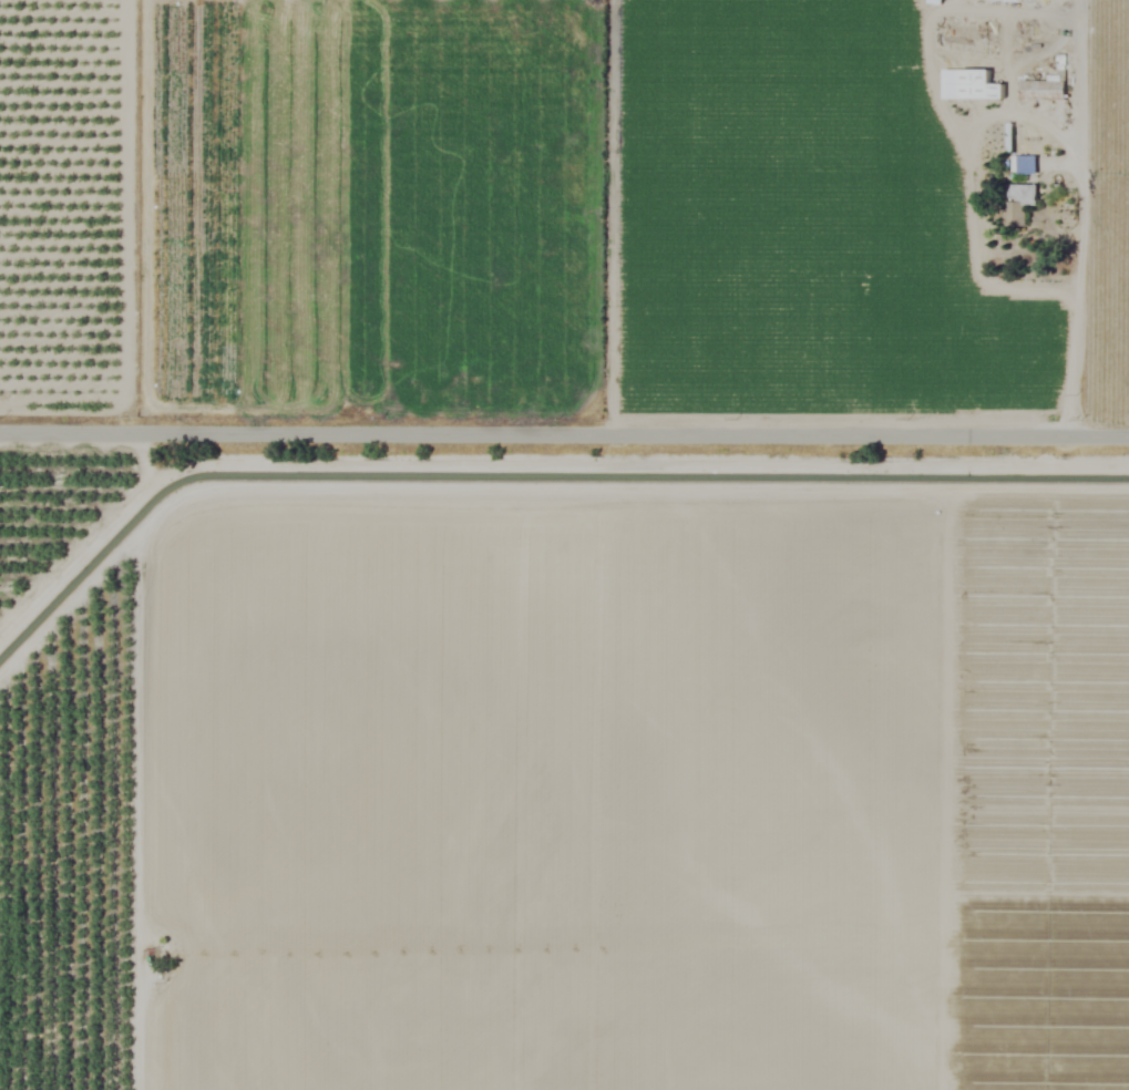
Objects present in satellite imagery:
building: (968, 85)
building: (1040, 90)
building: (1023, 165)
building: (1017, 204)
road: (1075, 216)
road: (564, 431)
crop: (564, 545)

